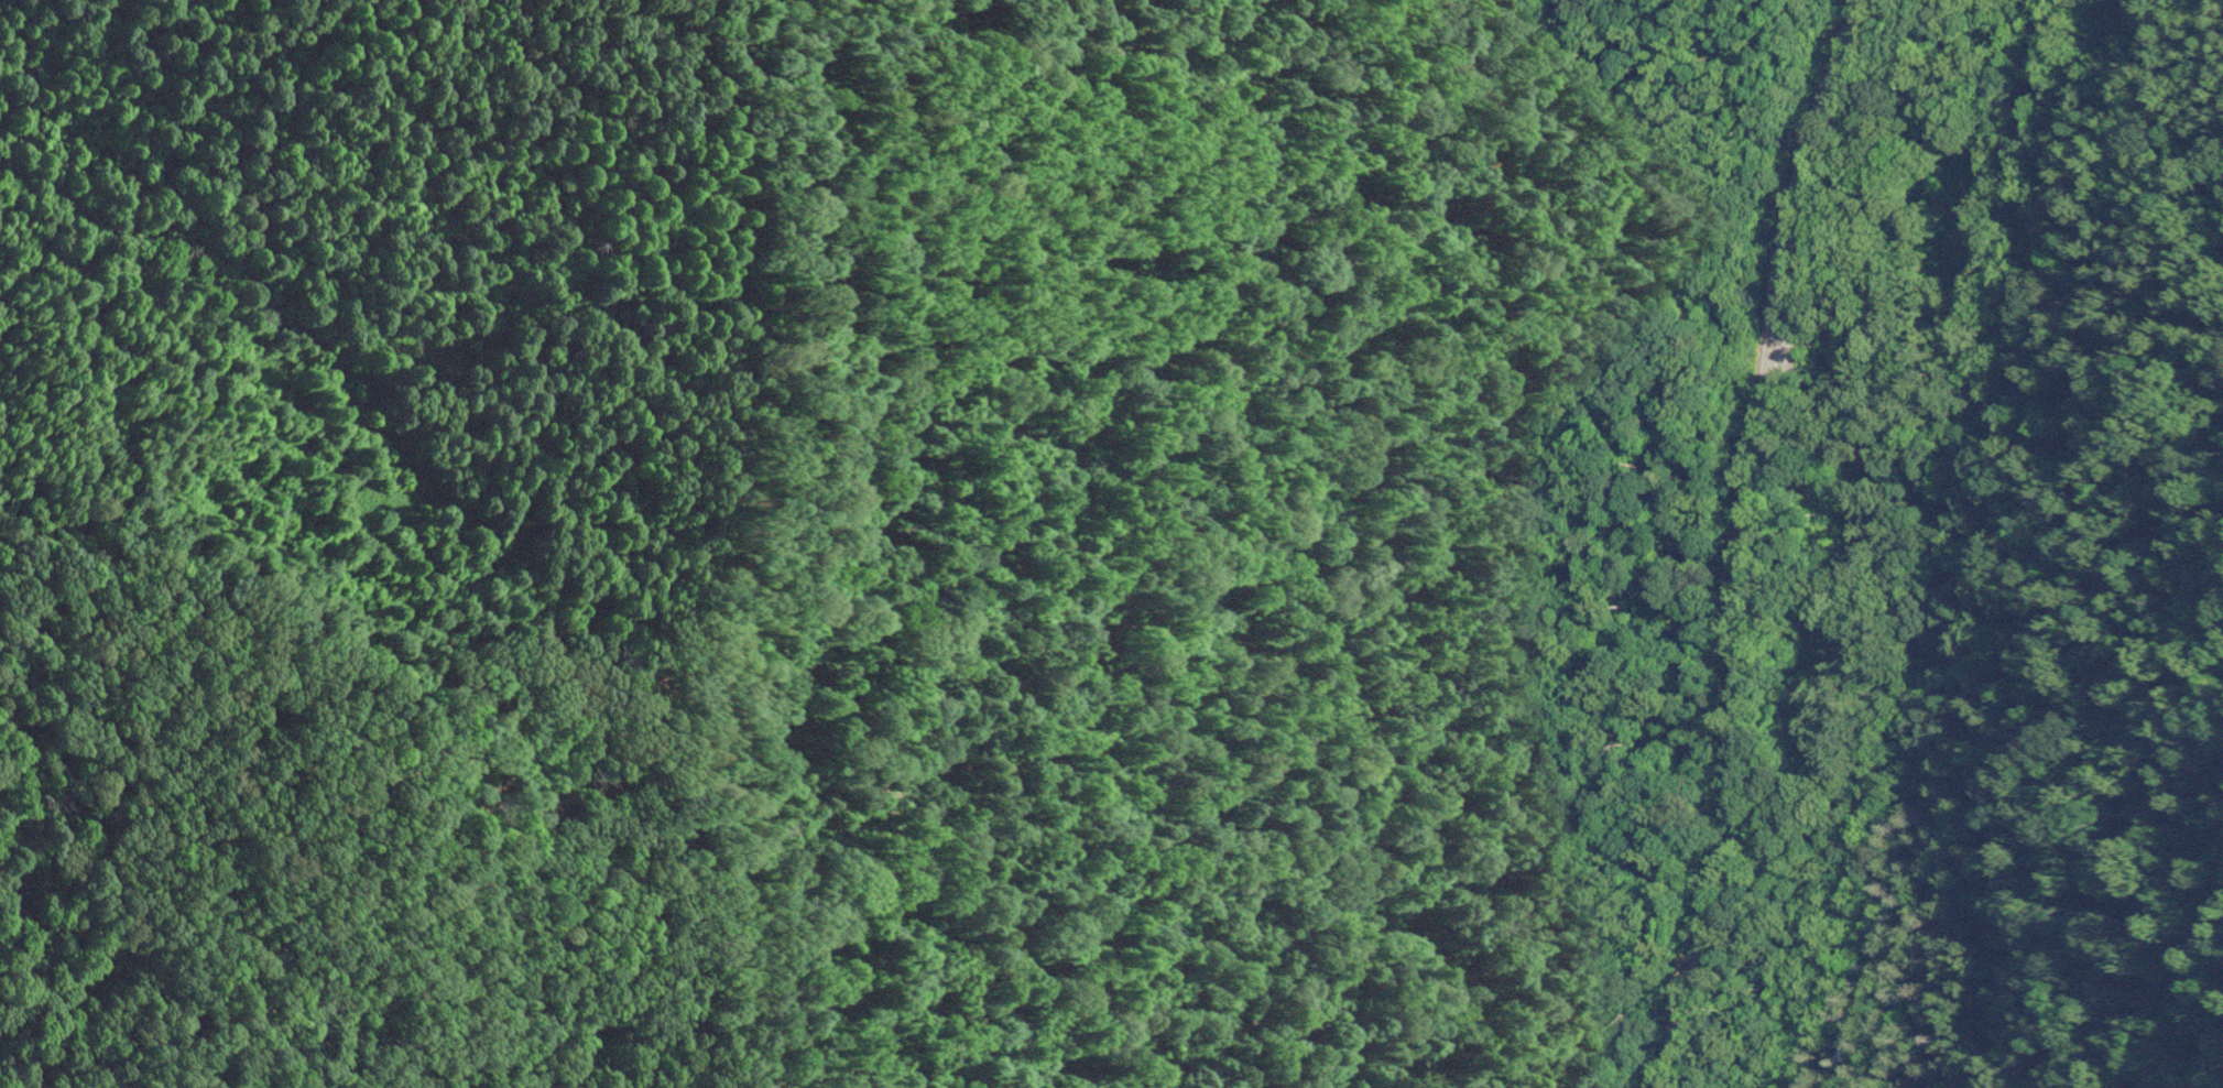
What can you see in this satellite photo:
road: (2121, 51)
road: (1751, 542)
road: (2008, 543)

